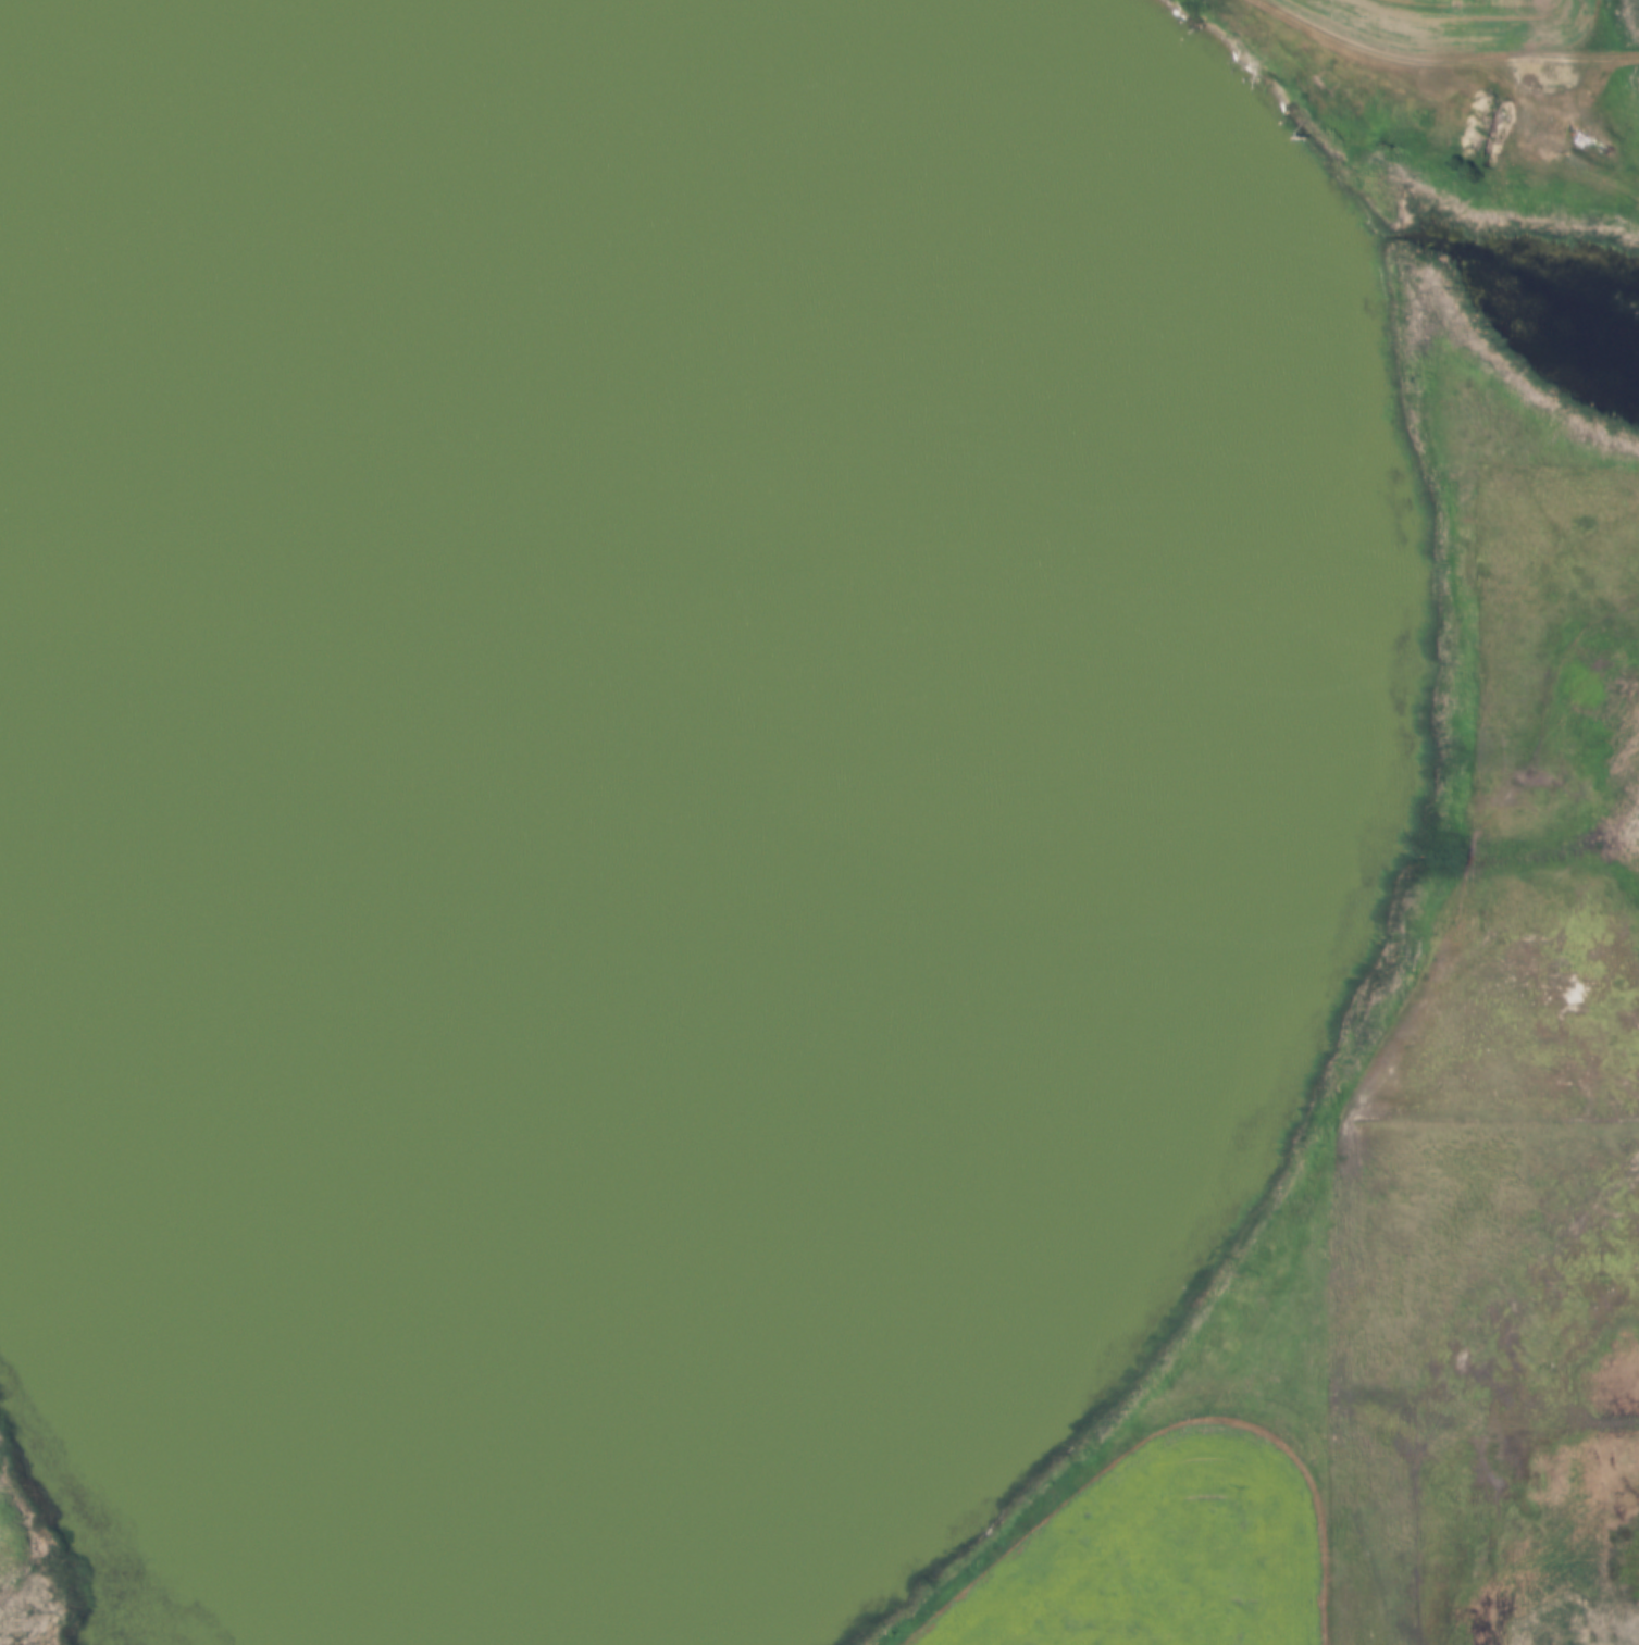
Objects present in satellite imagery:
road: (1448, 61)

